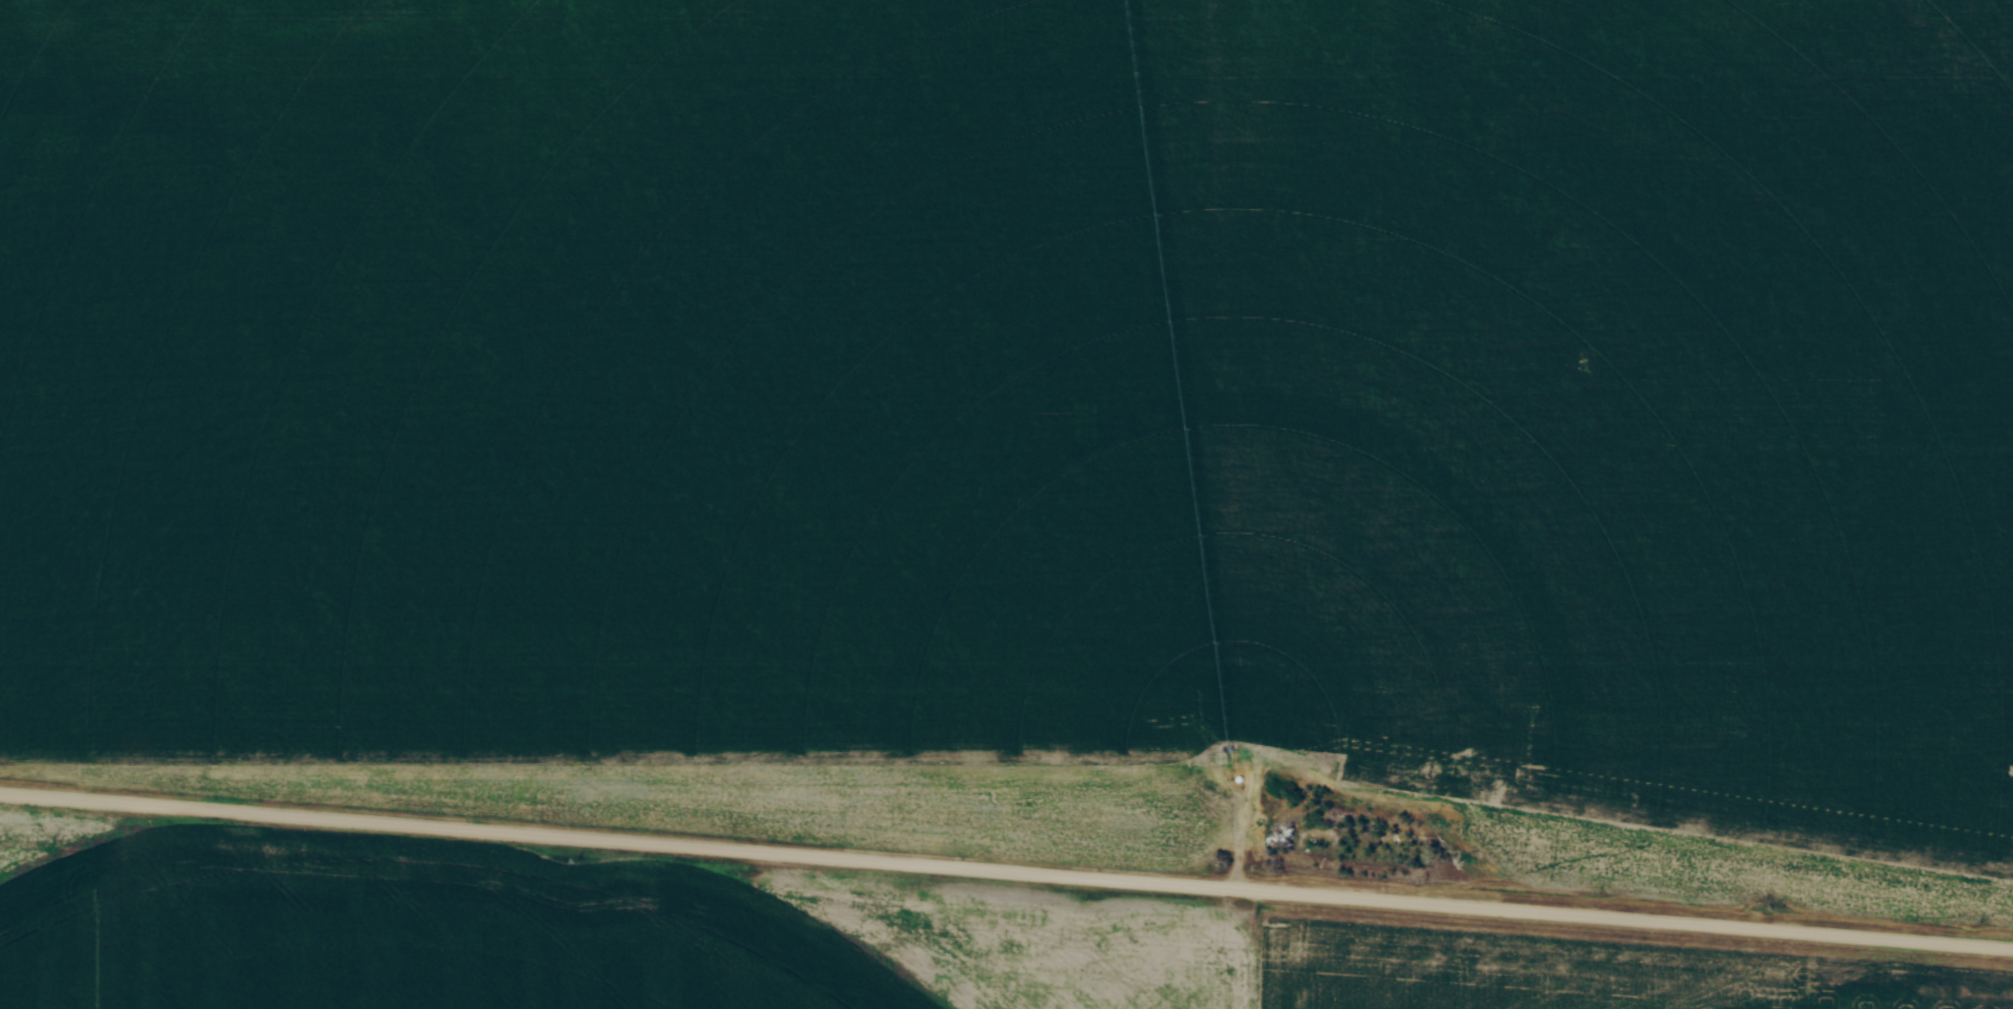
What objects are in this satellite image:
road: (1006, 872)

